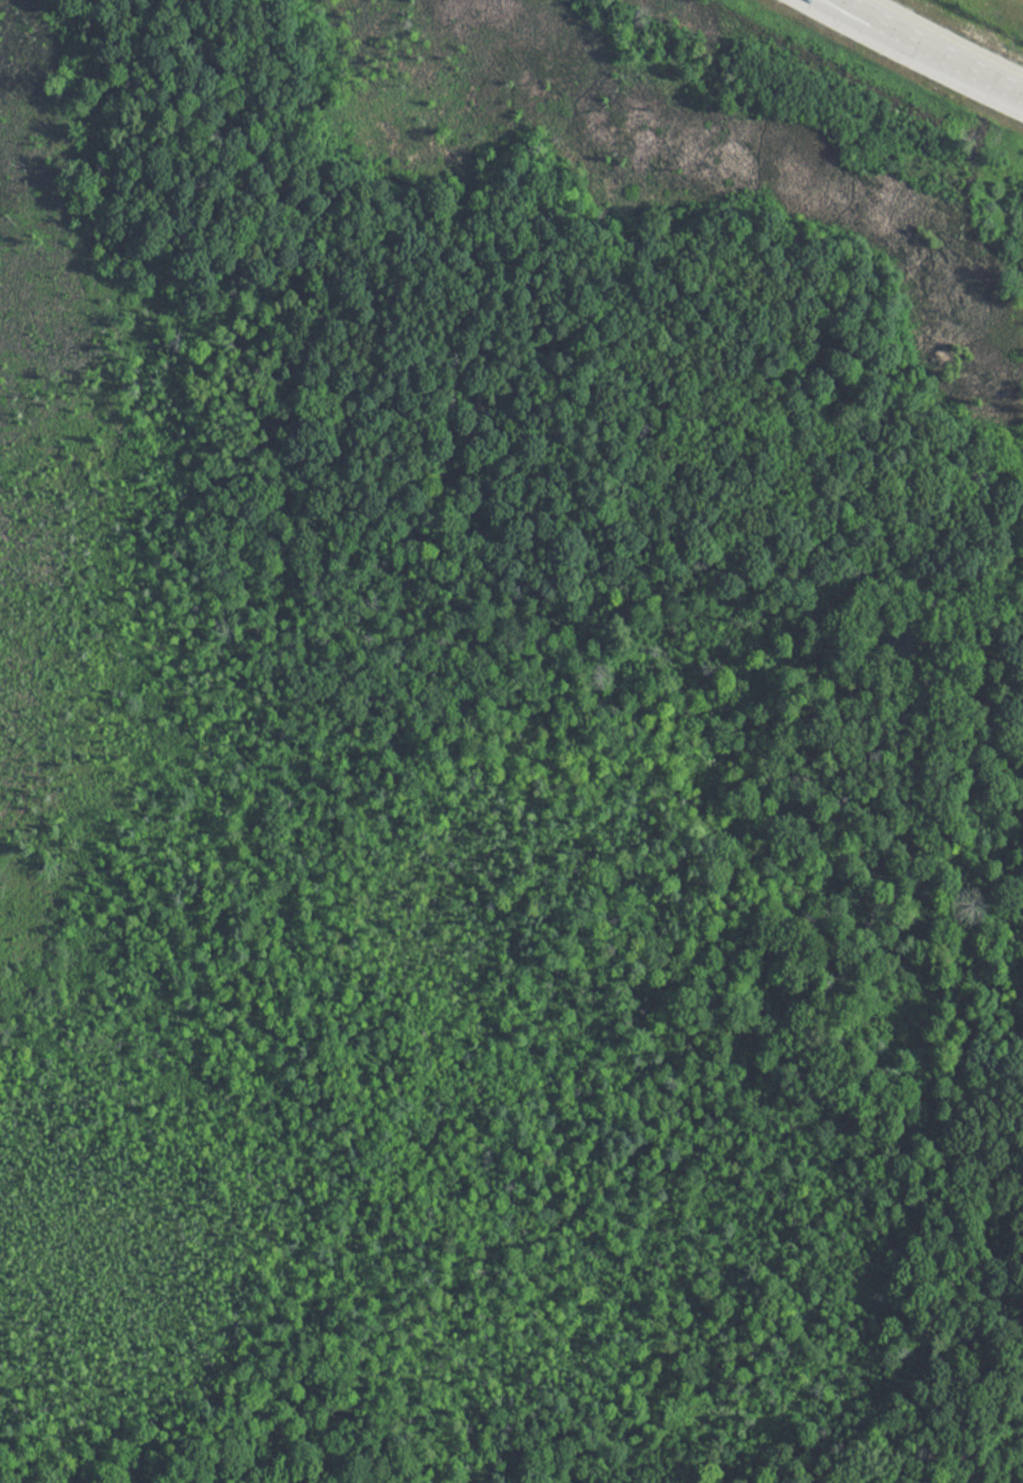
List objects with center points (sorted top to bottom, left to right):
road: (808, 2)
road: (912, 57)

